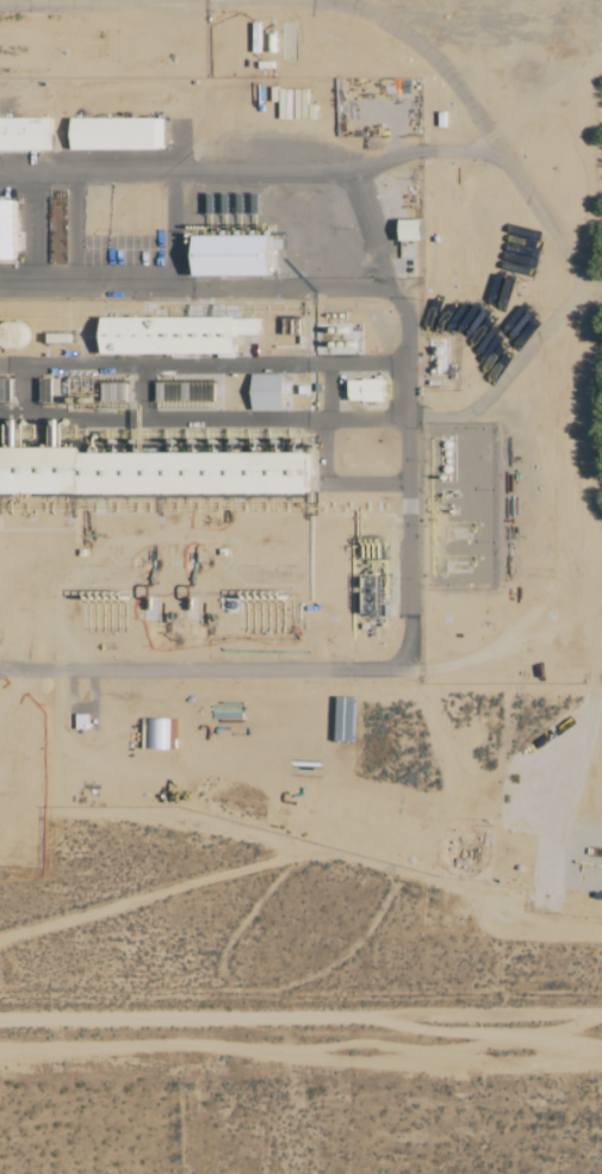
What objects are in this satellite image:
road: (315, 1)
building: (29, 135)
building: (122, 135)
road: (499, 156)
building: (10, 230)
building: (240, 256)
road: (196, 290)
building: (179, 336)
road: (203, 362)
road: (513, 367)
building: (371, 391)
building: (271, 393)
road: (406, 439)
building: (154, 473)
road: (300, 1017)

